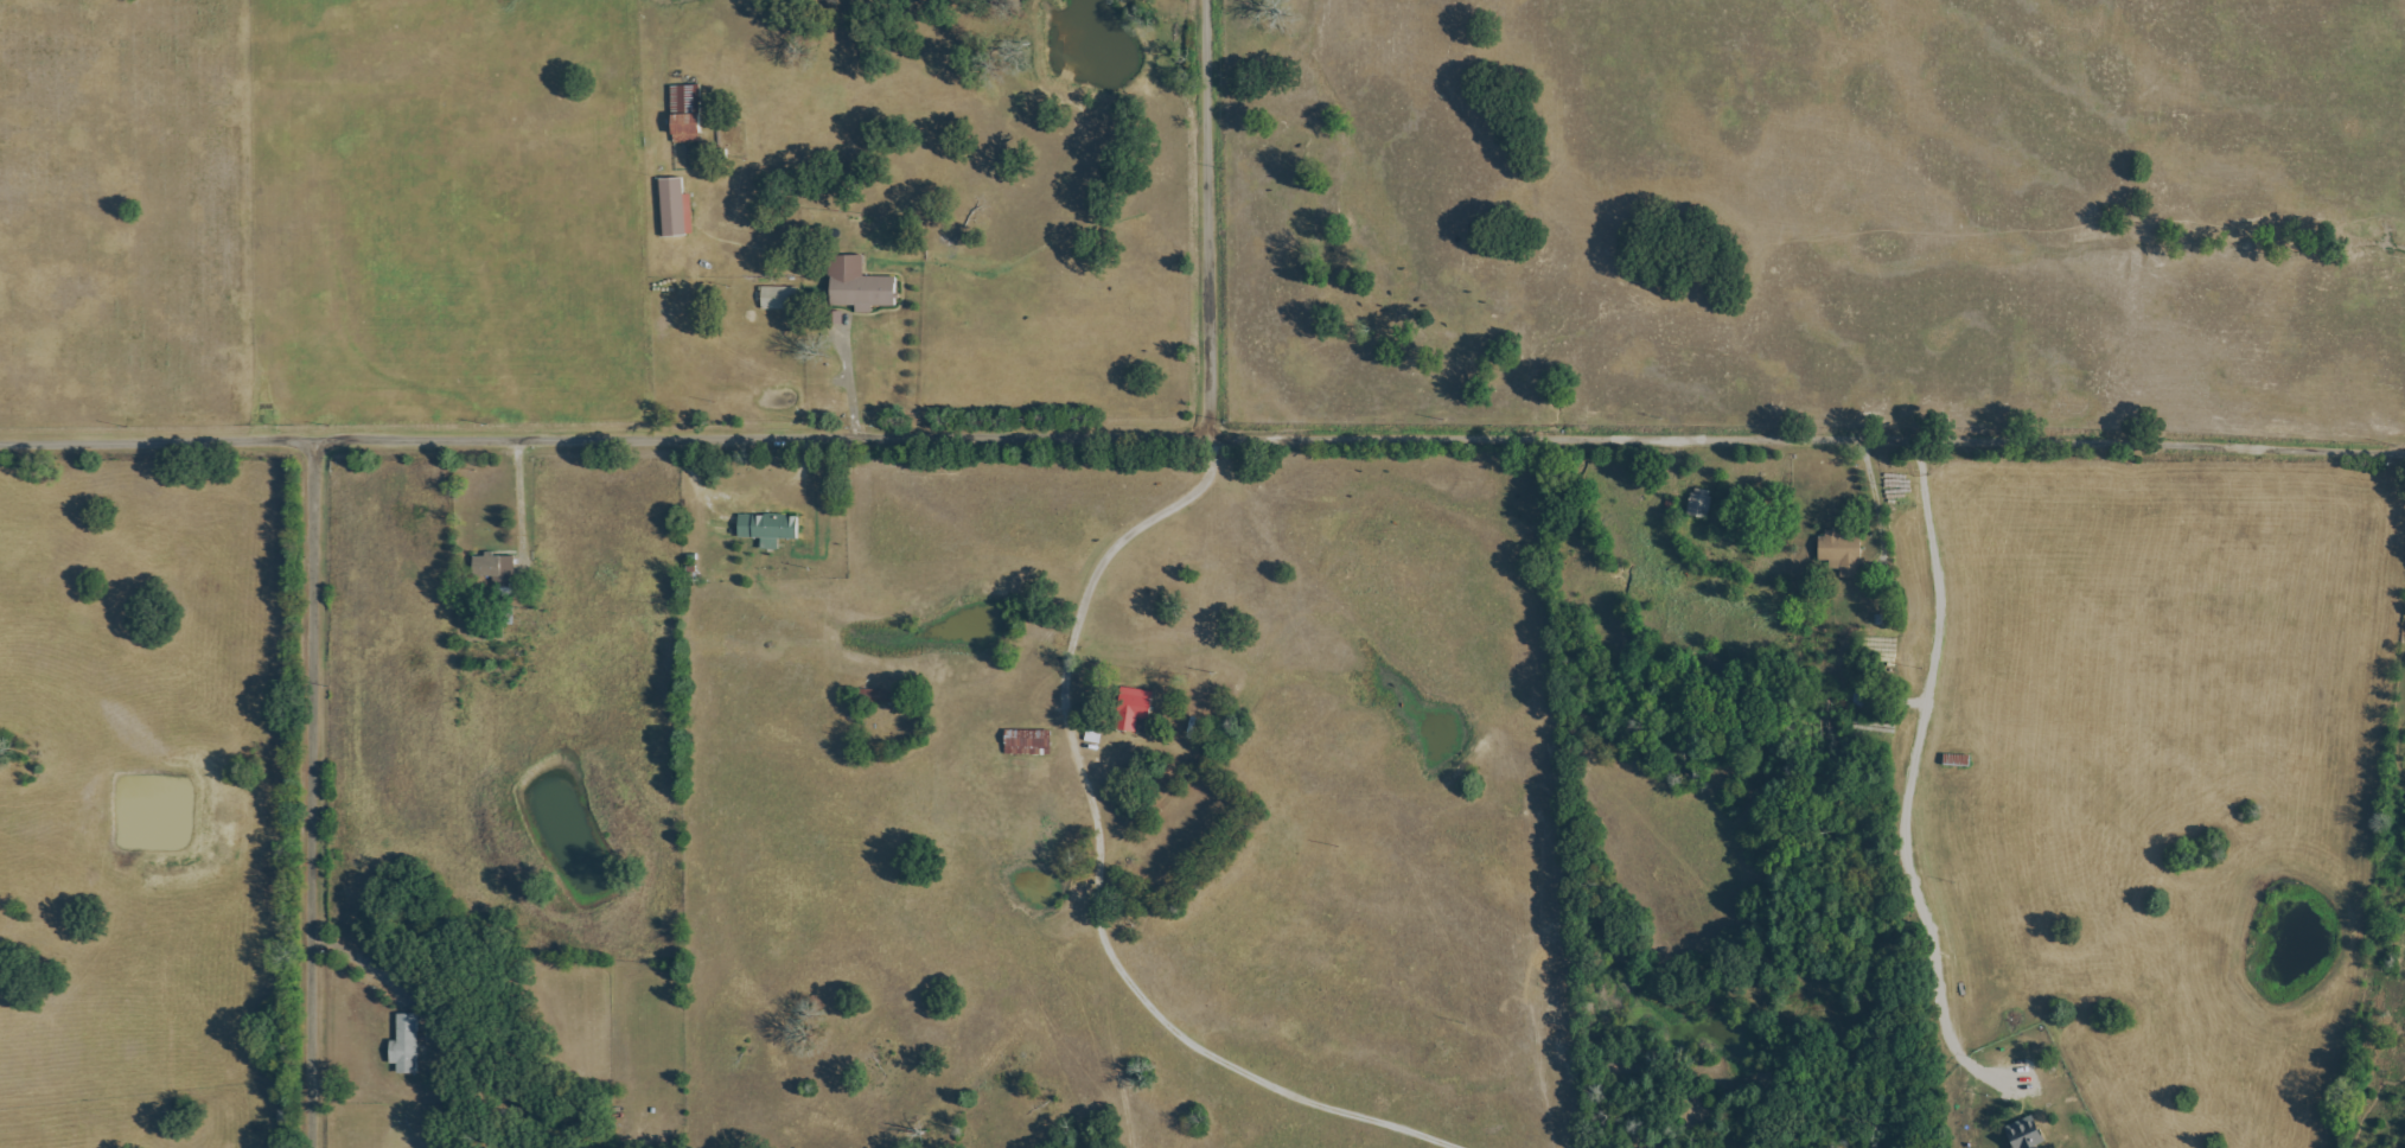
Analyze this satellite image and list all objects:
building: (684, 113)
building: (674, 208)
road: (1207, 217)
building: (856, 285)
building: (777, 298)
road: (849, 383)
road: (601, 440)
road: (1804, 441)
building: (1698, 502)
road: (518, 504)
road: (1874, 509)
building: (766, 528)
building: (1841, 553)
building: (493, 568)
building: (873, 695)
building: (1131, 708)
building: (1026, 742)
road: (1909, 784)
road: (311, 793)
road: (1098, 867)
road: (363, 958)
building: (403, 1044)
building: (2023, 1135)

